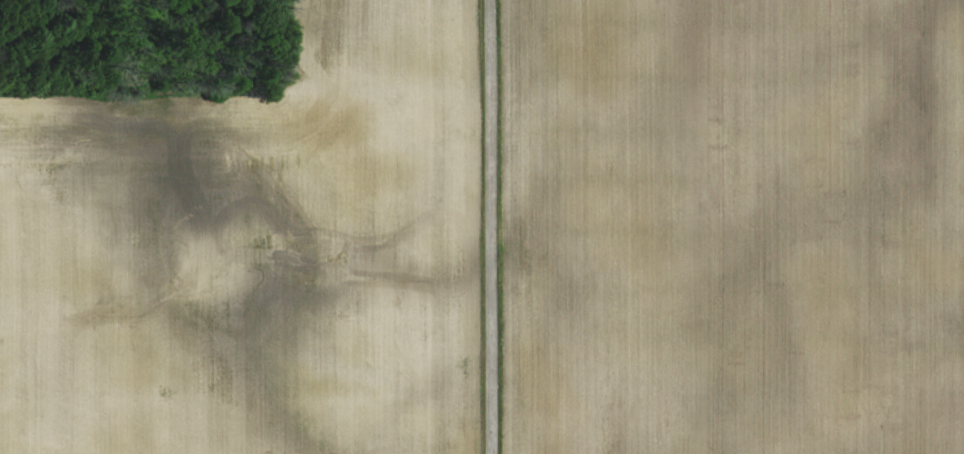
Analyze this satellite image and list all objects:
road: (488, 227)

